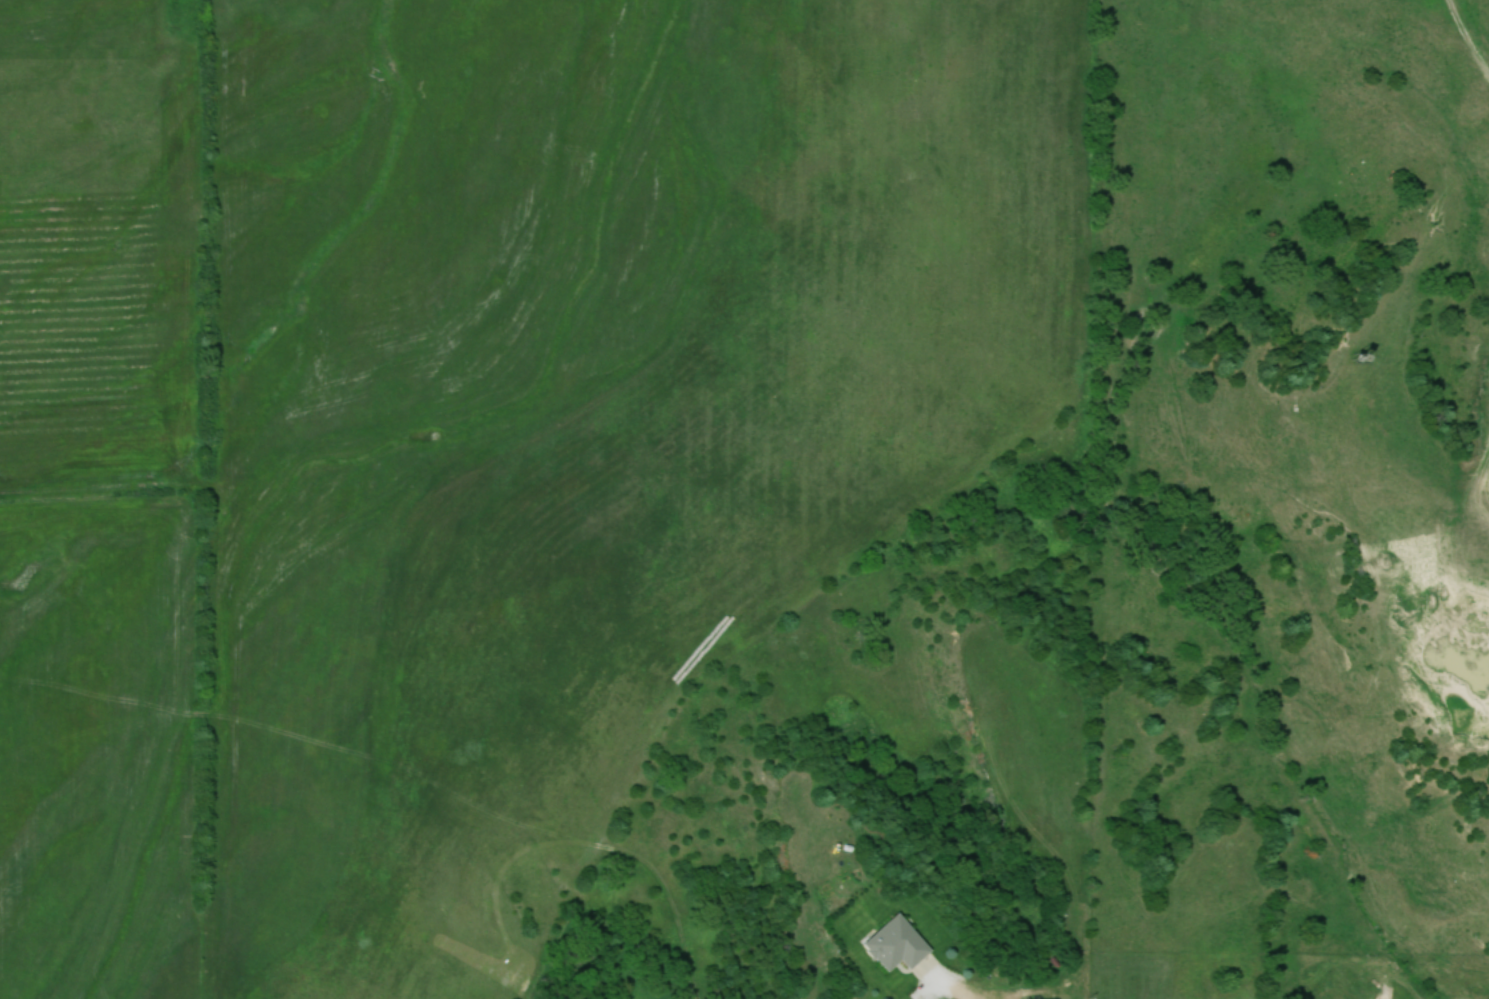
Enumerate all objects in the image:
building: (898, 945)

